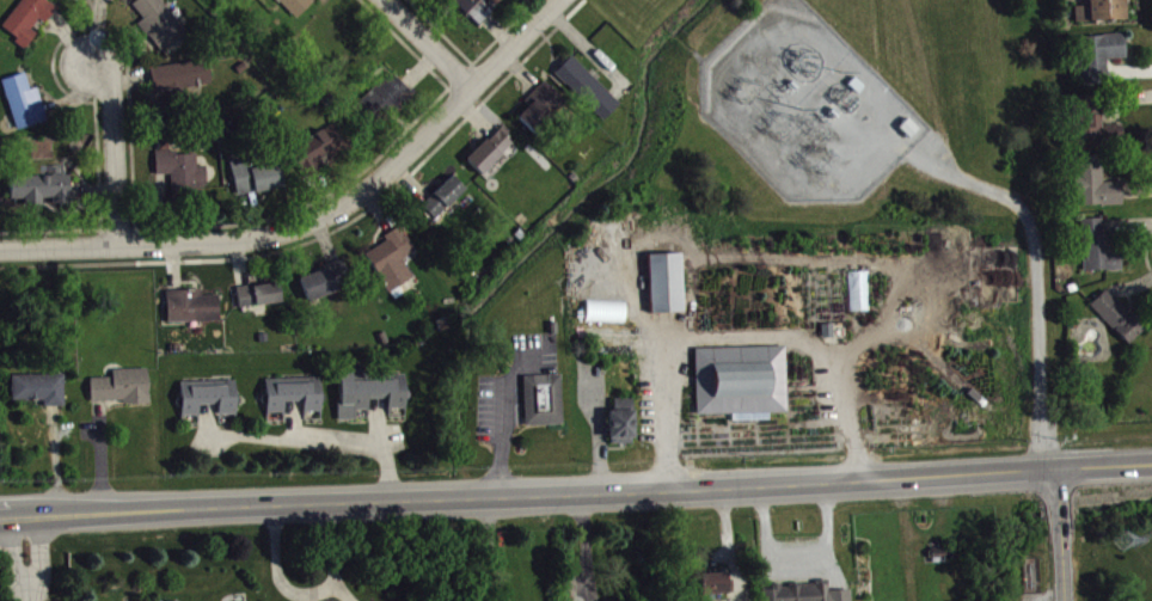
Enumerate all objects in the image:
building: (108, 0)
building: (296, 8)
building: (474, 11)
building: (1104, 13)
building: (29, 23)
building: (158, 24)
road: (429, 45)
building: (1101, 60)
building: (183, 82)
building: (589, 92)
building: (386, 102)
building: (25, 106)
building: (543, 110)
building: (1096, 128)
road: (117, 151)
building: (318, 153)
building: (491, 155)
building: (182, 172)
building: (257, 180)
building: (1097, 188)
building: (42, 194)
building: (446, 201)
road: (324, 220)
building: (1101, 251)
building: (393, 263)
road: (1037, 277)
building: (327, 286)
building: (668, 288)
building: (261, 299)
building: (194, 311)
building: (608, 317)
building: (1119, 320)
road: (742, 337)
building: (743, 386)
building: (123, 391)
building: (41, 393)
building: (370, 397)
building: (540, 397)
building: (296, 399)
building: (210, 400)
building: (624, 427)
road: (320, 443)
road: (576, 490)
road: (1056, 533)
power tower: (1123, 540)
road: (584, 545)
road: (492, 548)
road: (27, 557)
building: (716, 588)
building: (795, 590)
road: (305, 591)

